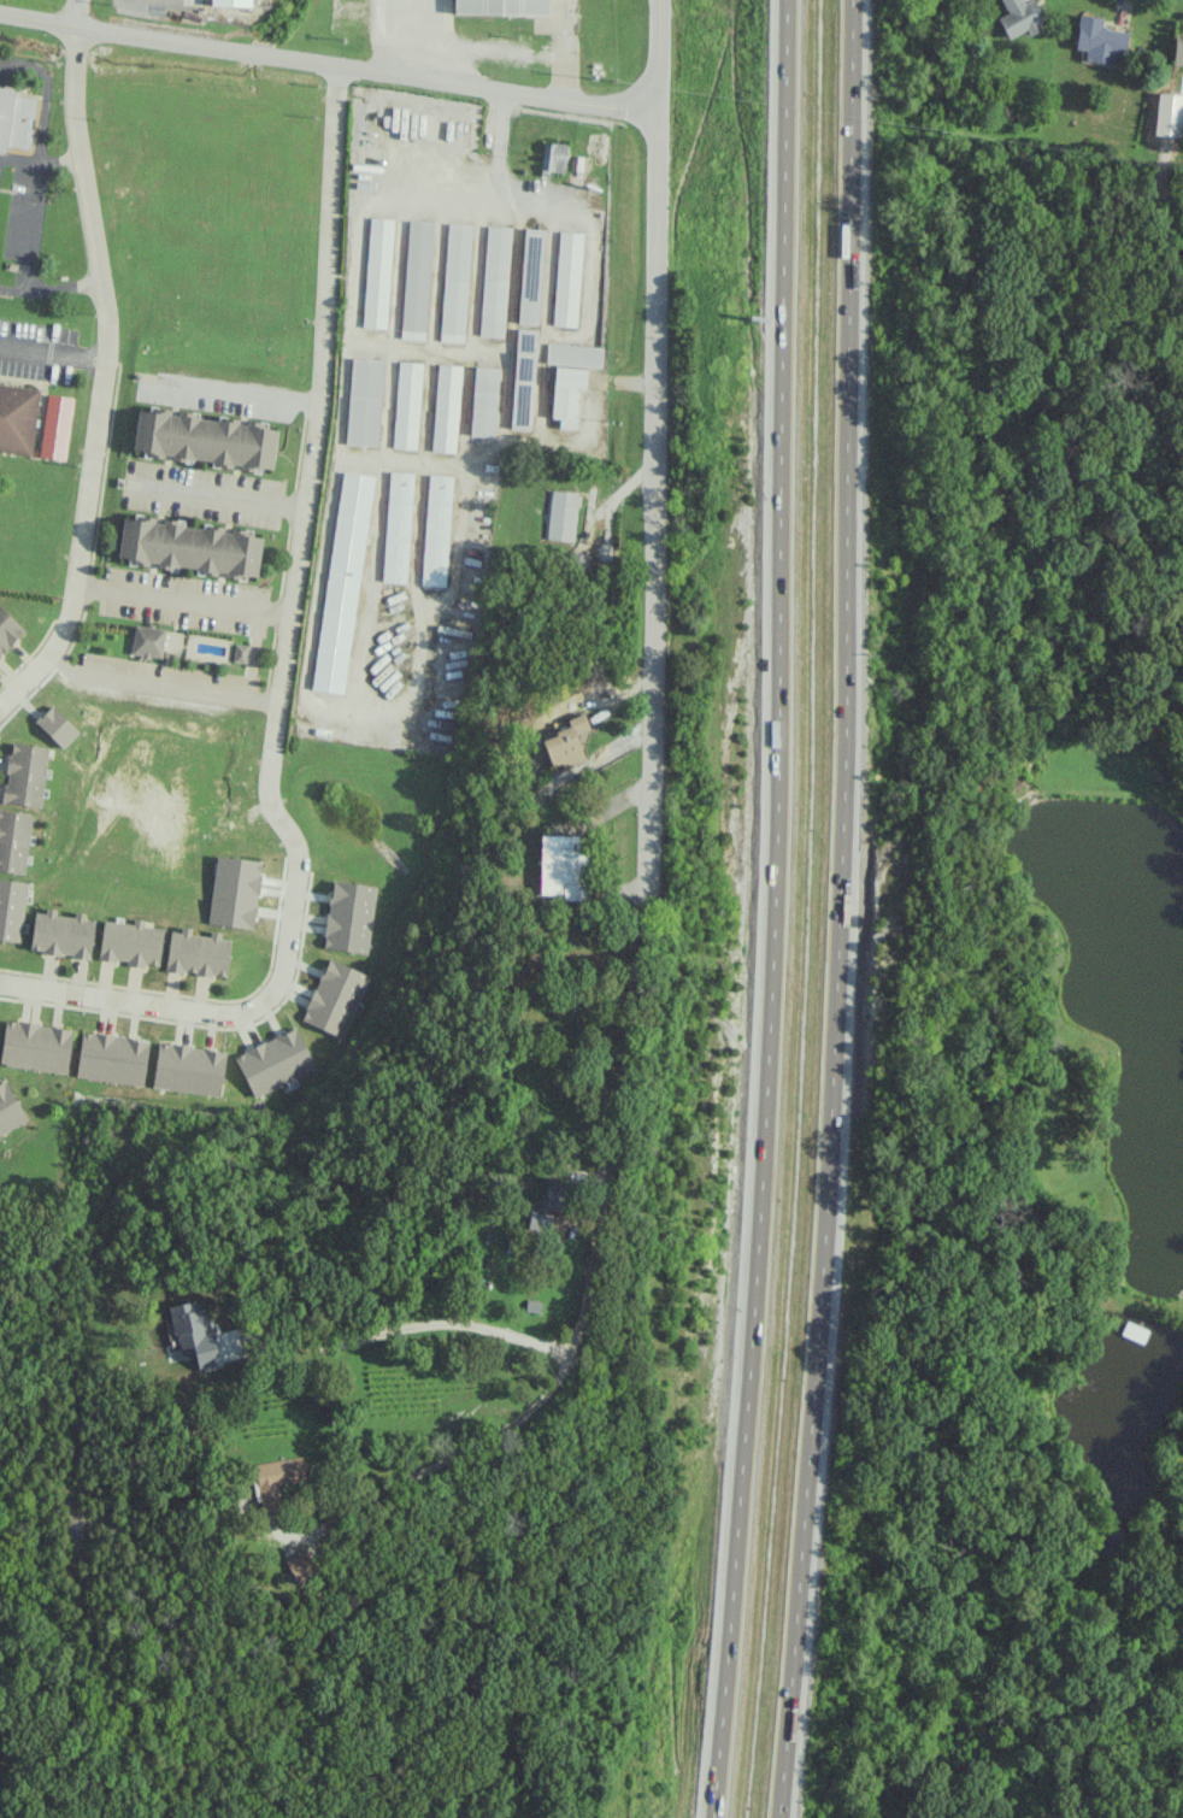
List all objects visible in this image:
building: (501, 6)
road: (76, 12)
building: (1020, 17)
building: (1099, 41)
building: (1178, 52)
road: (657, 53)
road: (328, 65)
building: (14, 119)
road: (500, 122)
building: (552, 157)
road: (24, 237)
building: (377, 272)
building: (530, 276)
building: (566, 278)
building: (416, 280)
building: (494, 281)
building: (455, 282)
road: (52, 351)
building: (573, 354)
road: (102, 376)
building: (523, 380)
road: (236, 390)
building: (566, 395)
building: (364, 401)
building: (484, 401)
building: (406, 405)
building: (446, 408)
building: (17, 417)
building: (55, 426)
building: (204, 439)
road: (652, 494)
road: (220, 495)
road: (614, 498)
building: (563, 516)
building: (398, 526)
building: (436, 530)
building: (189, 547)
building: (342, 582)
road: (181, 600)
building: (7, 630)
building: (147, 641)
building: (240, 653)
road: (279, 673)
road: (157, 686)
building: (57, 726)
building: (566, 743)
building: (24, 775)
building: (13, 840)
building: (563, 866)
building: (234, 892)
building: (11, 908)
road: (775, 910)
road: (840, 910)
building: (349, 917)
building: (61, 934)
building: (130, 943)
building: (198, 953)
building: (335, 998)
building: (35, 1046)
building: (112, 1058)
building: (273, 1061)
road: (620, 1065)
building: (189, 1069)
building: (8, 1110)
building: (554, 1194)
road: (425, 1319)
road: (498, 1432)
building: (277, 1479)
building: (301, 1564)

